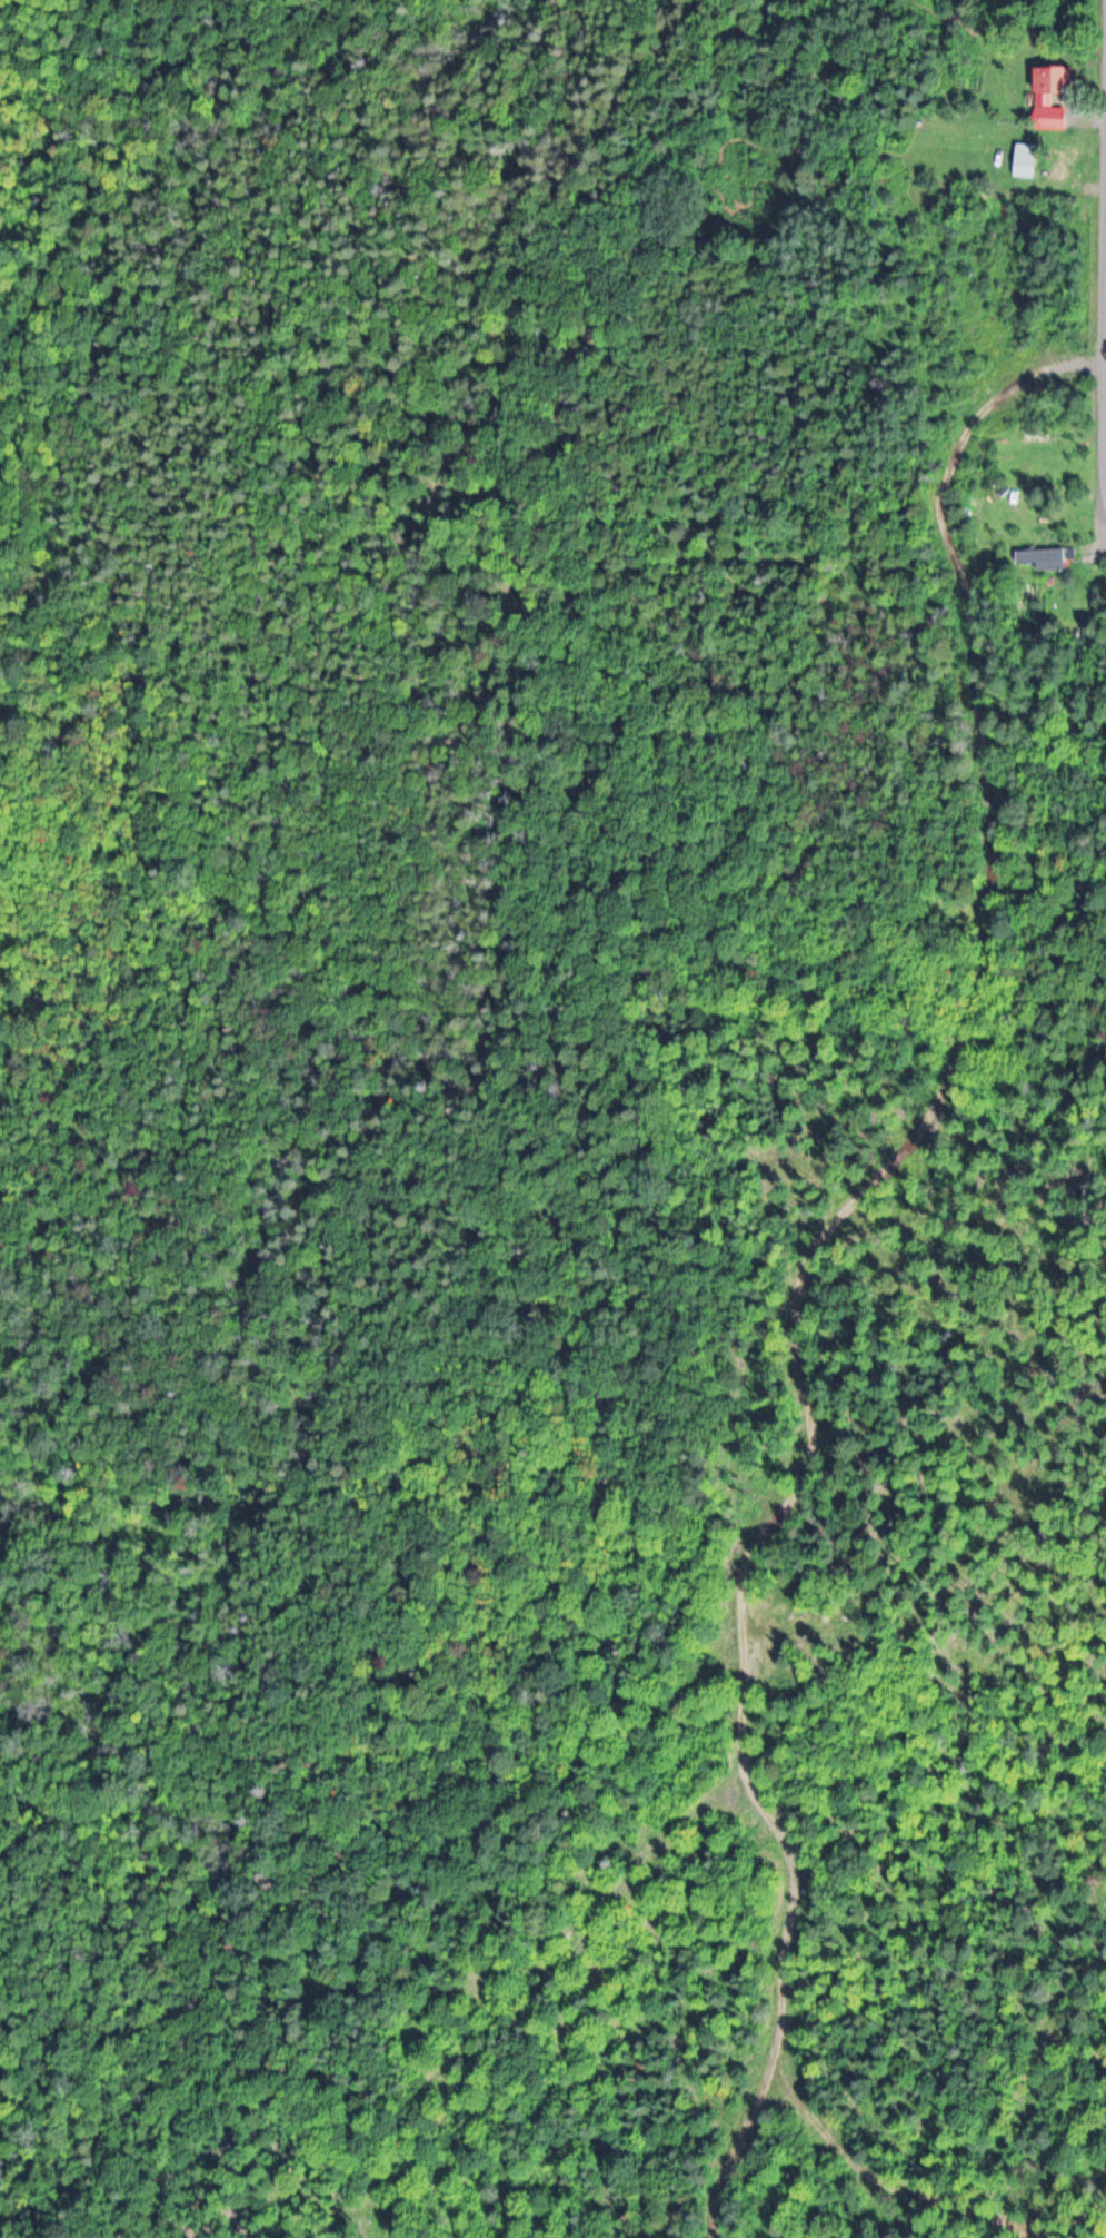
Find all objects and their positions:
building: (1052, 96)
building: (1030, 162)
building: (1050, 547)
building: (1049, 557)

